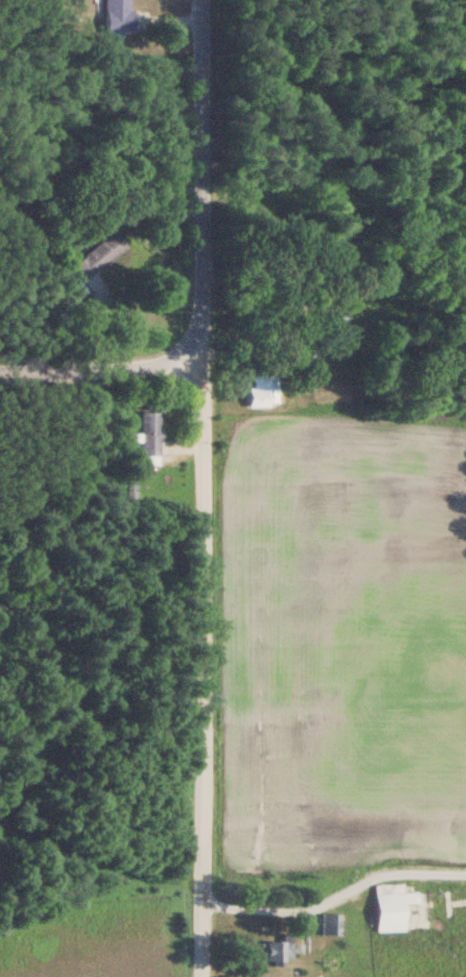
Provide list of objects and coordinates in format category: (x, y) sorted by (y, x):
road: (192, 179)
building: (106, 247)
road: (97, 369)
building: (257, 393)
building: (143, 440)
road: (195, 667)
road: (332, 890)
building: (381, 908)

